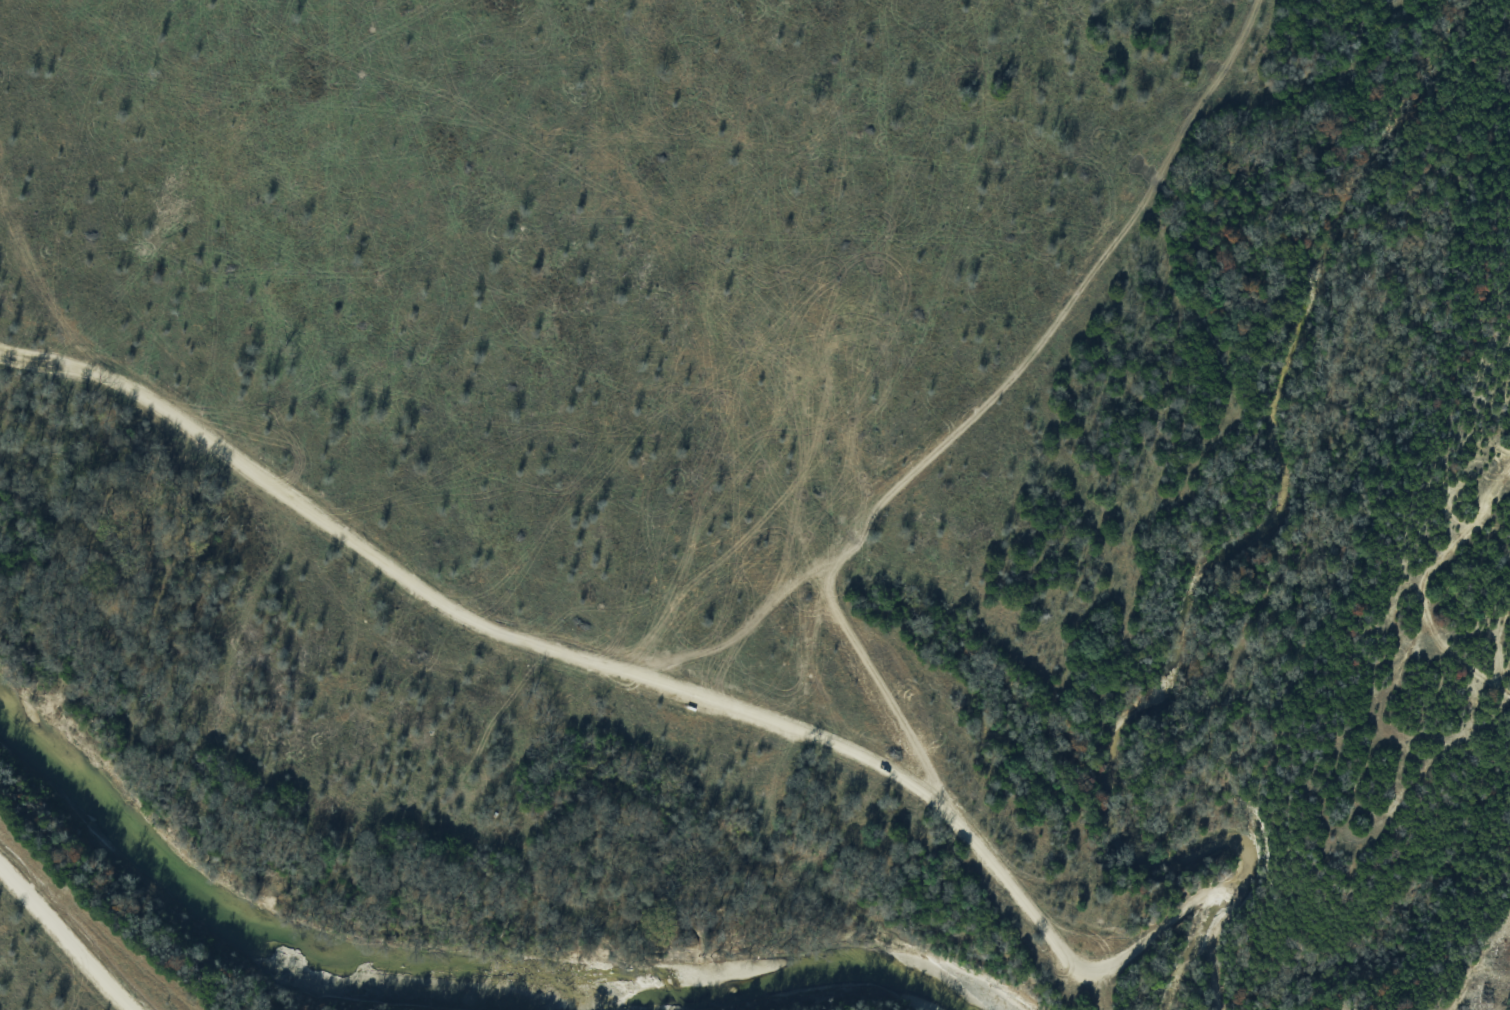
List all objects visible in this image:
road: (855, 529)
road: (466, 615)
road: (884, 681)
road: (68, 932)
road: (1111, 962)
river: (453, 988)

